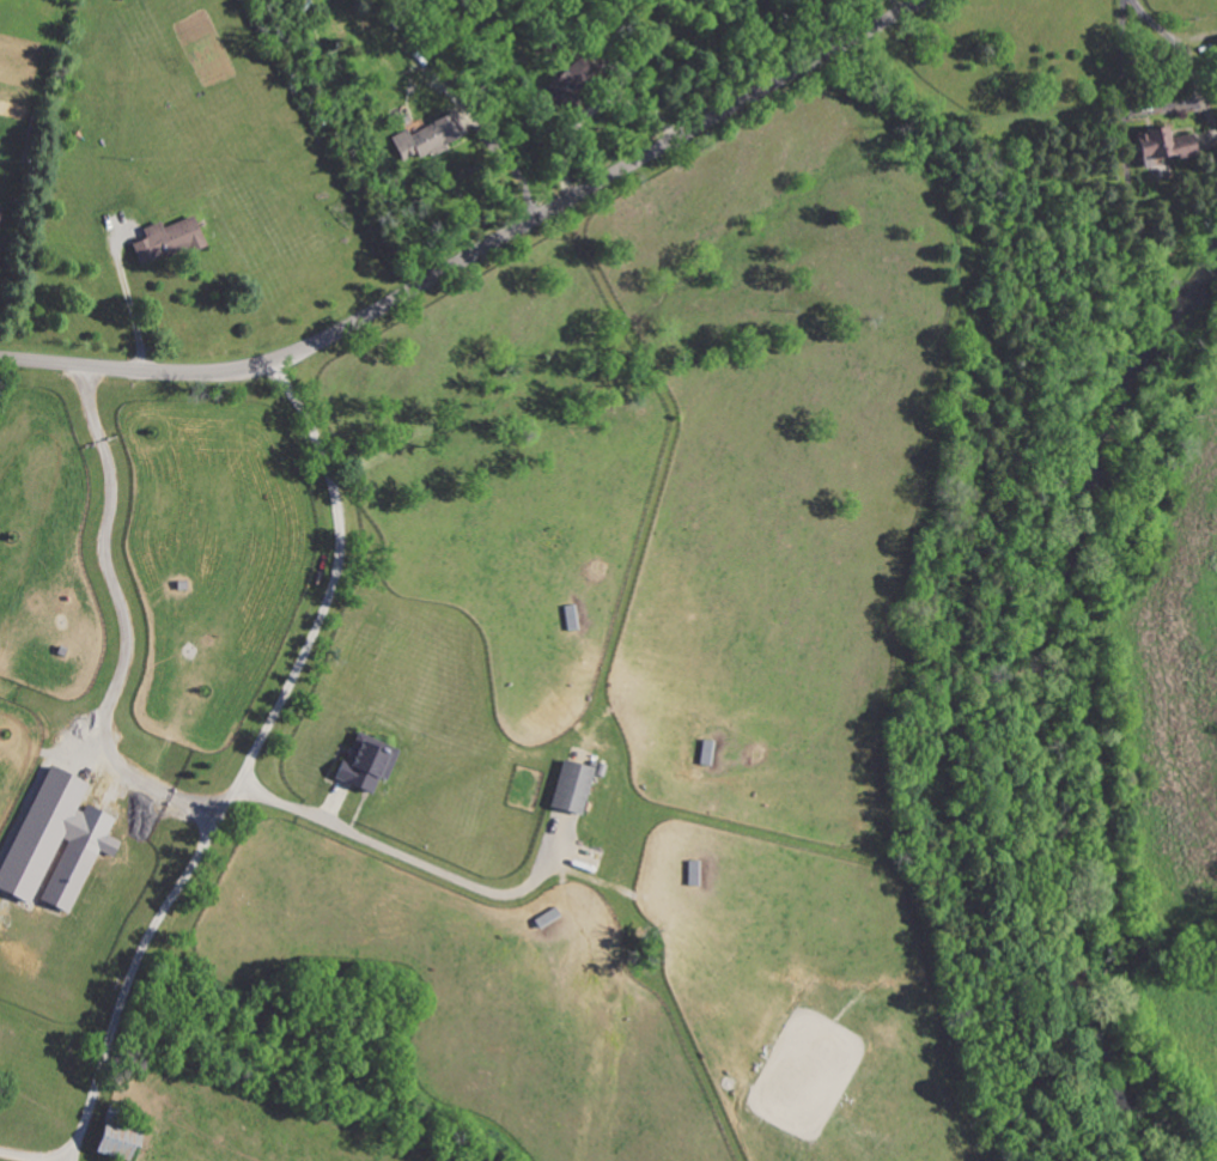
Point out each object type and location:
road: (897, 6)
building: (573, 78)
road: (592, 105)
building: (425, 138)
building: (1161, 145)
road: (510, 166)
building: (0, 209)
building: (164, 242)
road: (480, 250)
road: (132, 308)
road: (123, 620)
road: (248, 764)
building: (365, 764)
building: (572, 788)
building: (56, 843)
road: (418, 863)
building: (115, 1142)
road: (28, 1155)

